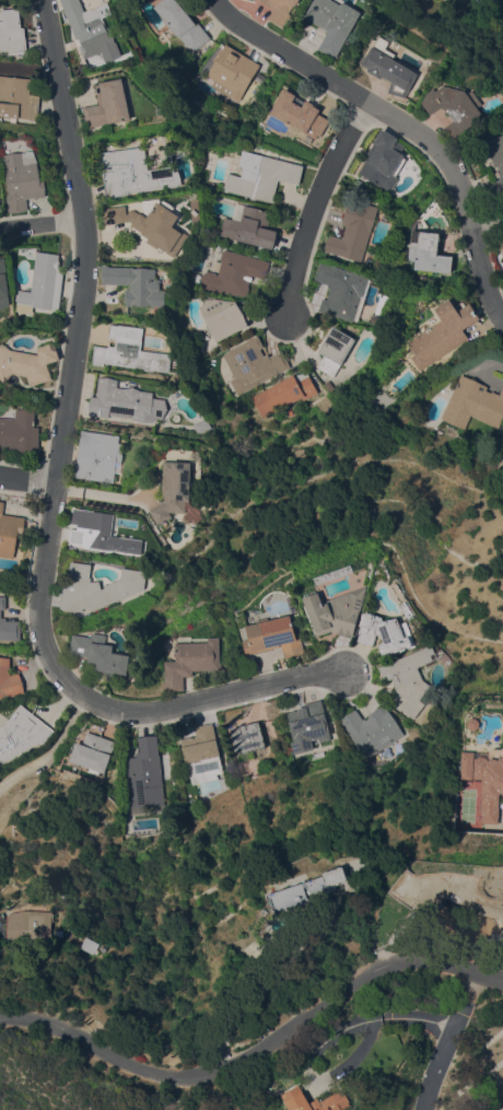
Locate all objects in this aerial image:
building: (280, 10)
building: (334, 22)
building: (182, 24)
building: (89, 27)
building: (12, 32)
building: (389, 67)
building: (232, 71)
building: (17, 97)
building: (107, 104)
building: (455, 107)
building: (300, 114)
road: (401, 124)
building: (492, 151)
building: (383, 160)
building: (133, 172)
building: (262, 175)
building: (23, 179)
building: (498, 186)
road: (313, 207)
road: (42, 225)
building: (152, 225)
building: (249, 225)
road: (487, 225)
building: (353, 231)
building: (428, 252)
building: (233, 272)
building: (42, 283)
building: (3, 284)
building: (136, 284)
building: (341, 291)
building: (222, 317)
building: (443, 332)
building: (334, 349)
building: (130, 350)
building: (27, 362)
building: (251, 363)
building: (328, 384)
building: (283, 393)
building: (125, 401)
building: (473, 404)
building: (202, 424)
building: (20, 430)
building: (97, 455)
road: (30, 476)
road: (57, 488)
building: (173, 490)
building: (9, 531)
building: (101, 533)
building: (97, 587)
building: (338, 610)
building: (8, 623)
building: (386, 633)
building: (273, 634)
building: (98, 653)
building: (192, 661)
building: (410, 677)
building: (9, 679)
building: (308, 725)
building: (371, 729)
building: (20, 733)
building: (248, 737)
road: (52, 751)
building: (92, 751)
building: (201, 752)
building: (315, 753)
building: (144, 774)
building: (486, 779)
building: (308, 889)
building: (33, 924)
building: (93, 945)
road: (449, 1040)
road: (326, 1042)
road: (258, 1055)
building: (318, 1100)

